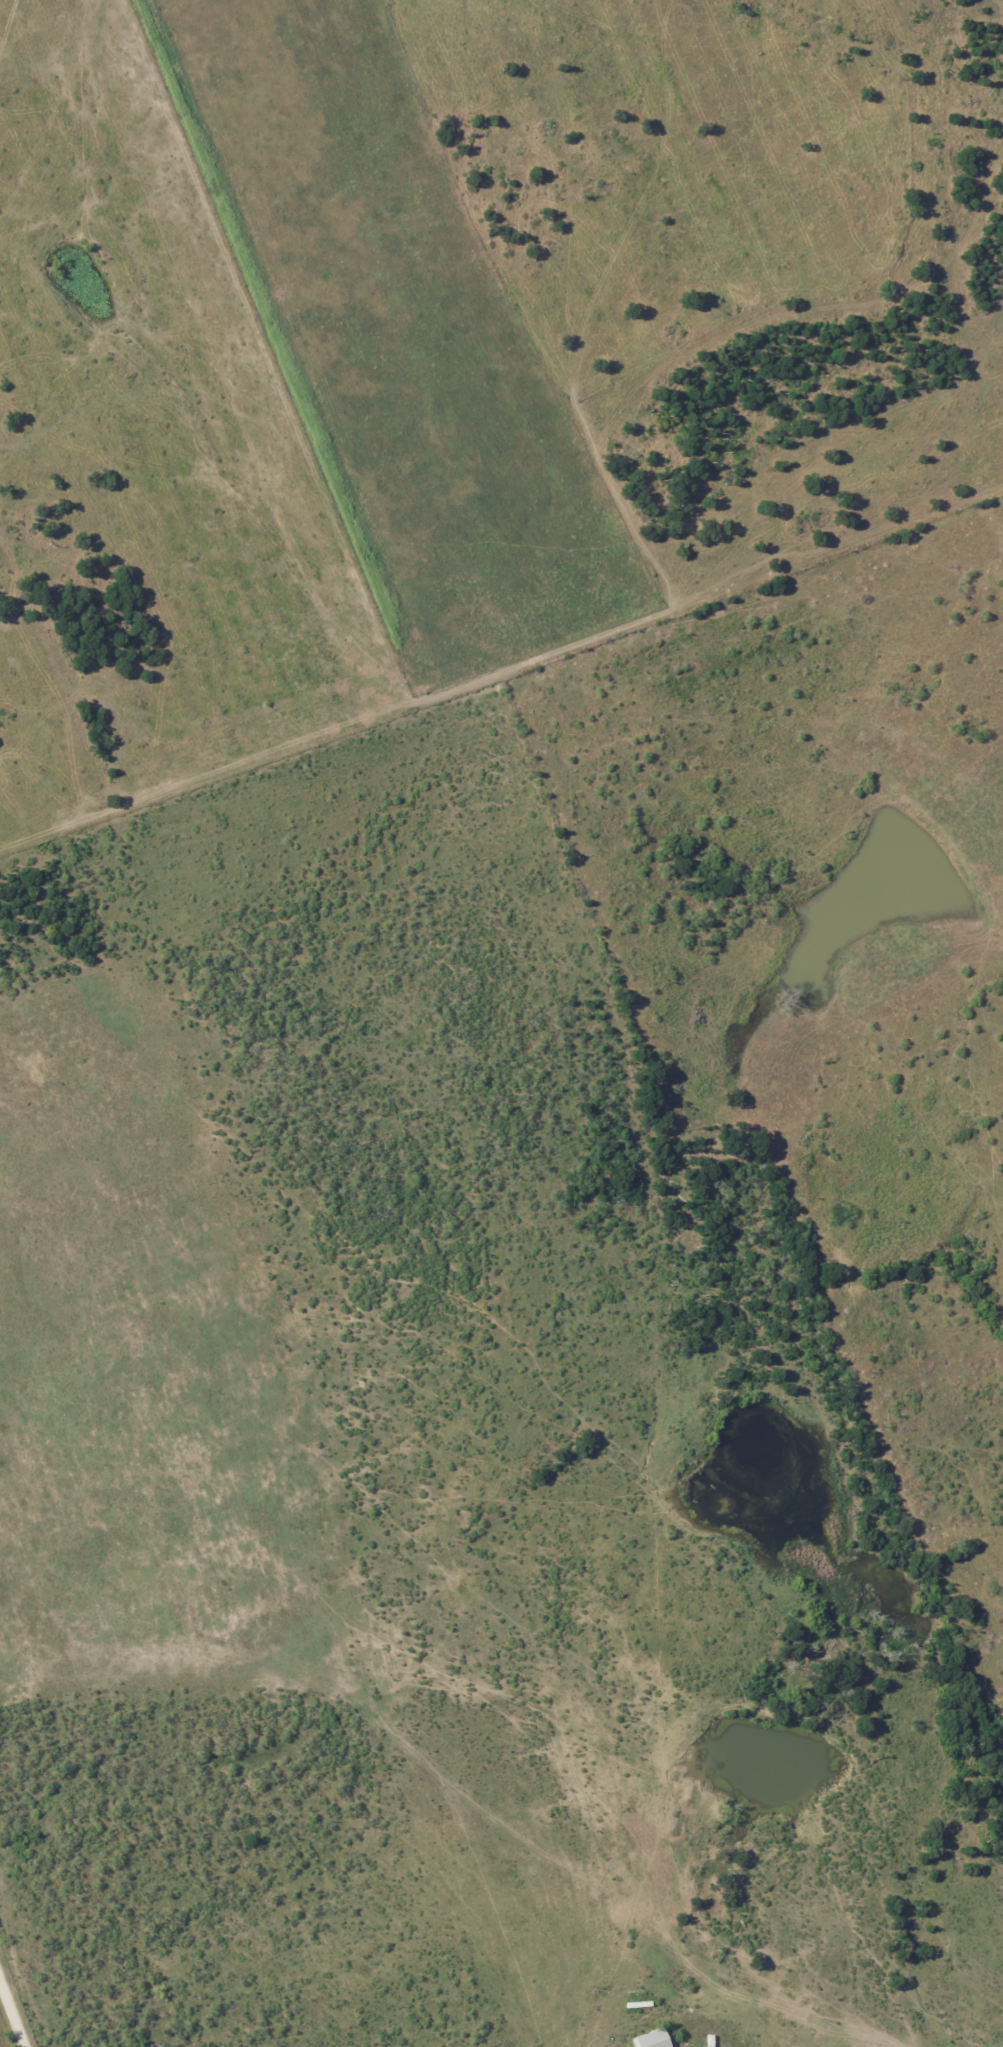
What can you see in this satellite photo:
road: (11, 2014)
building: (649, 2039)

